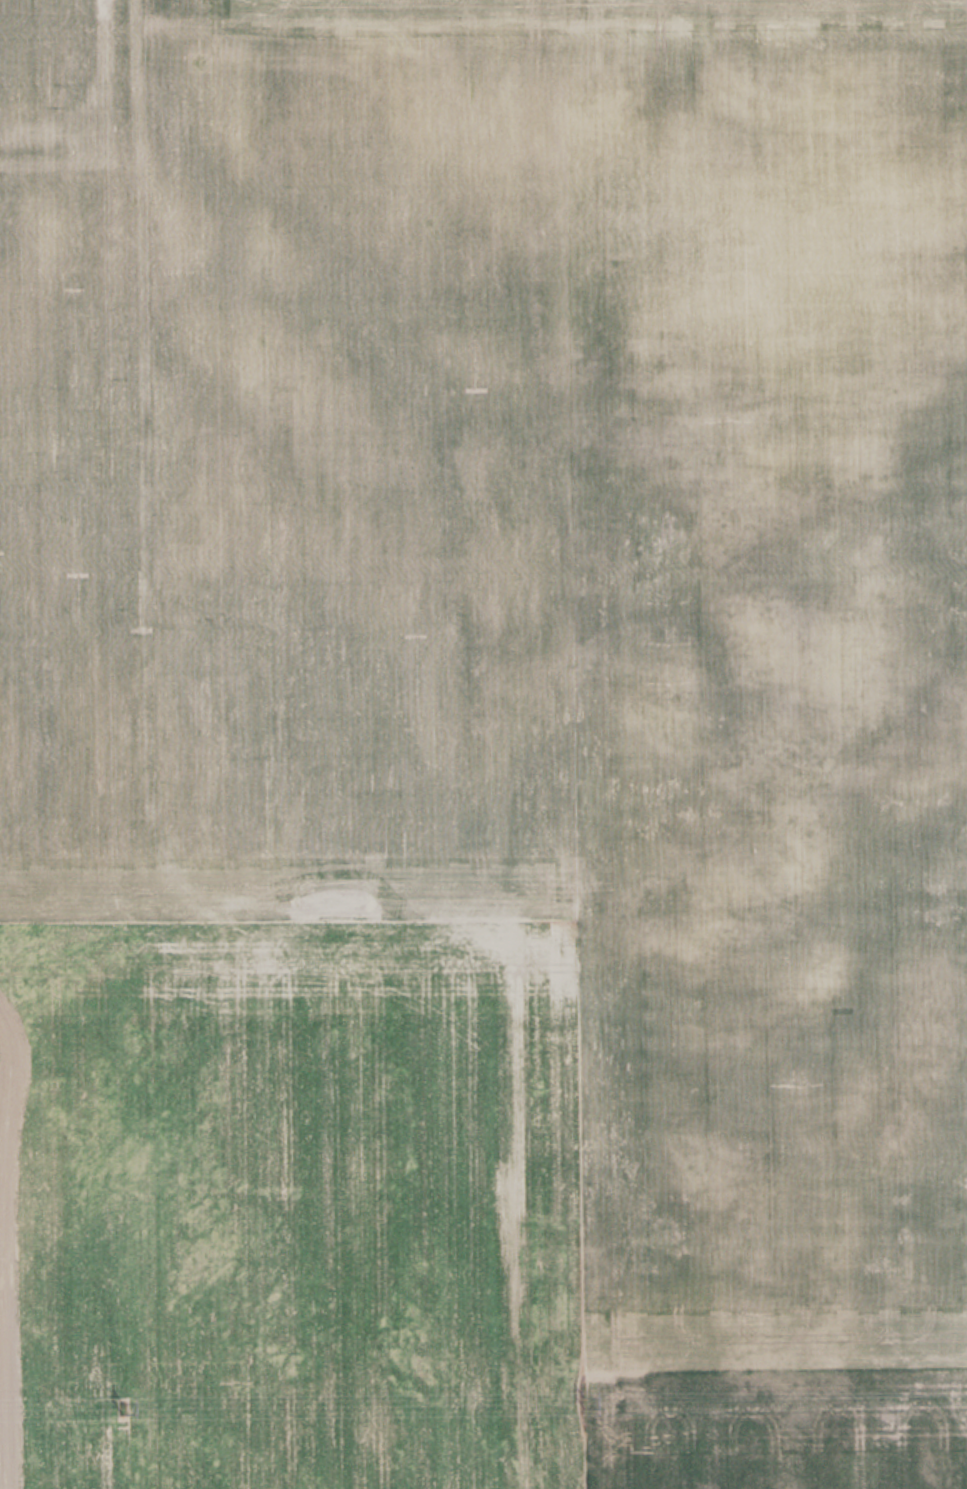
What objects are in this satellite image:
power tower: (591, 1401)
power tower: (128, 1407)

